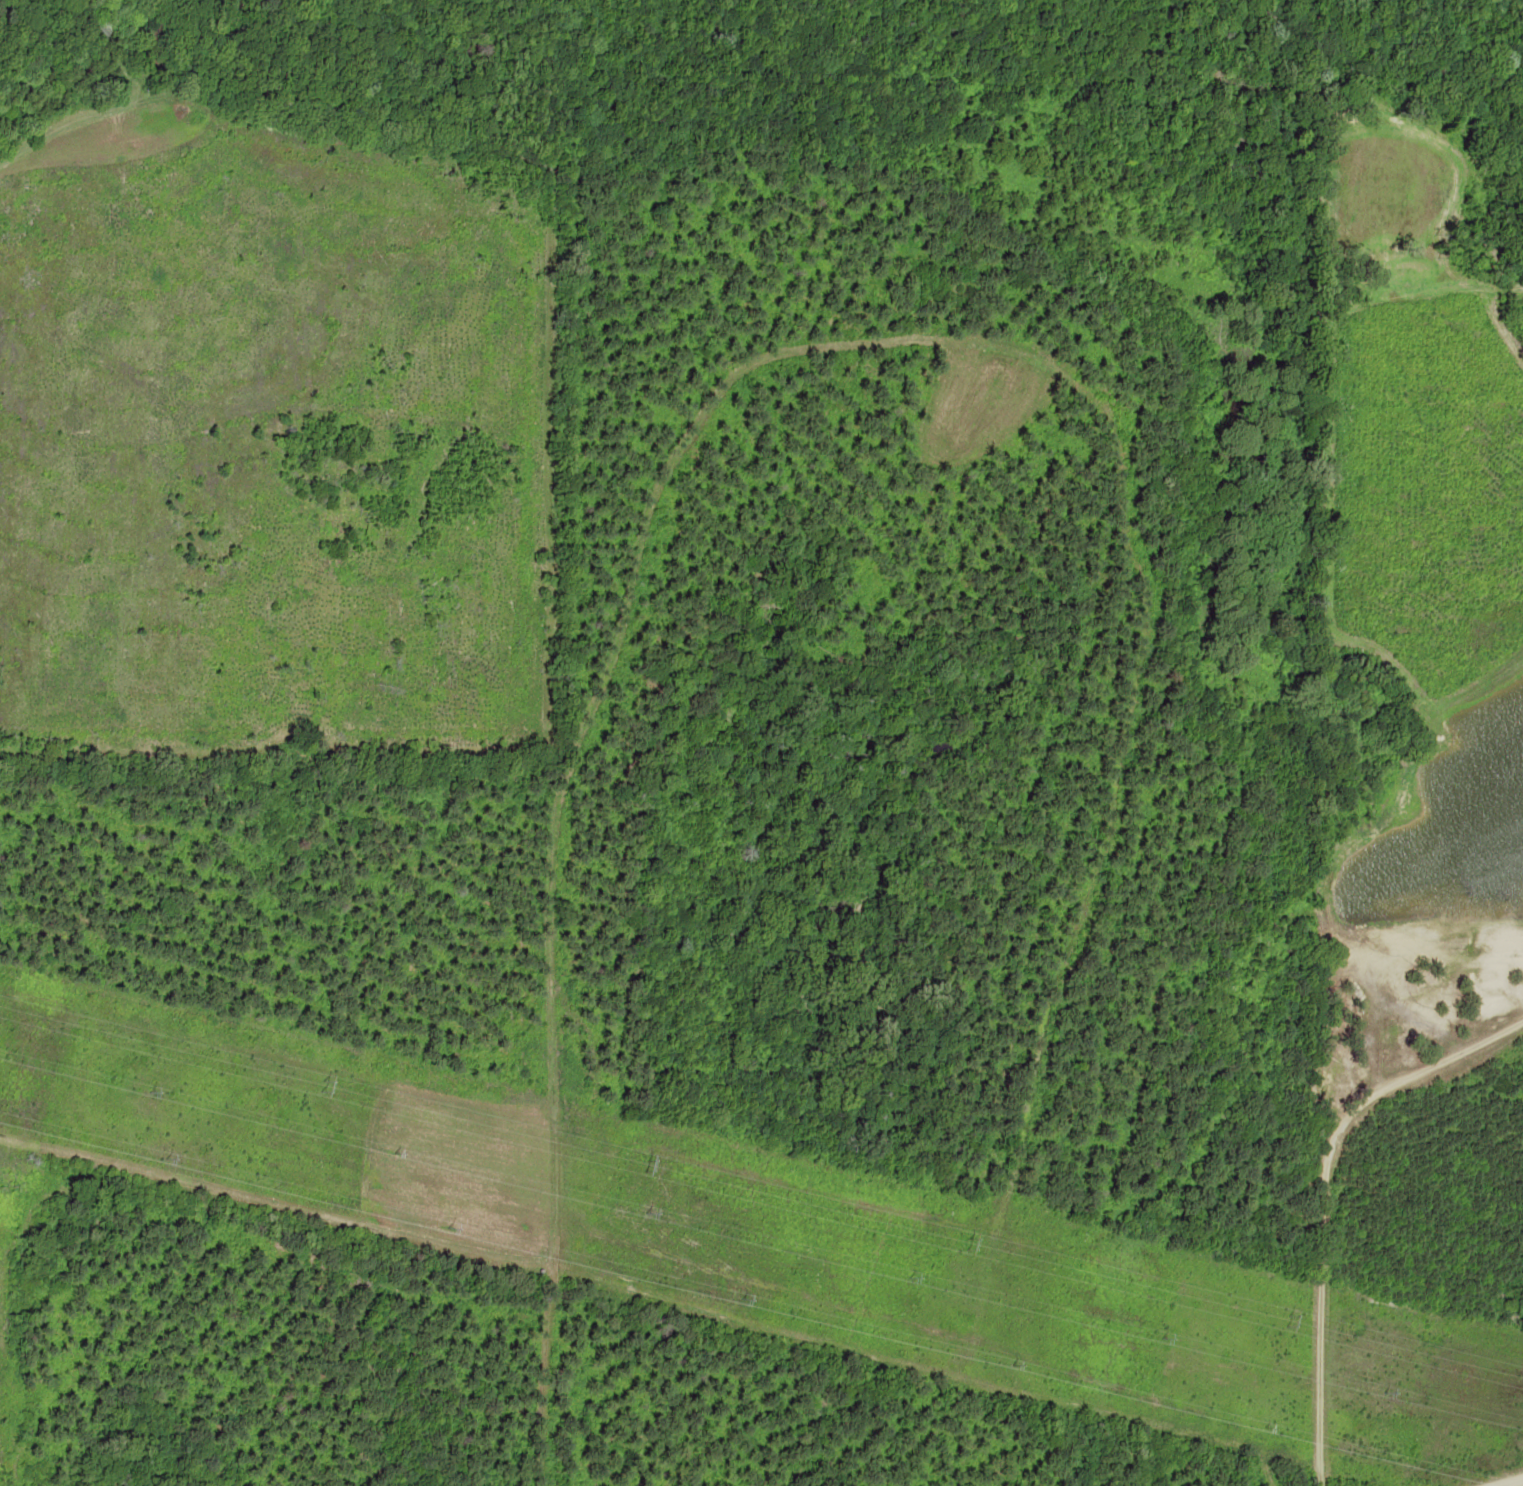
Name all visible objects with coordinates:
power tower: (551, 1219)

